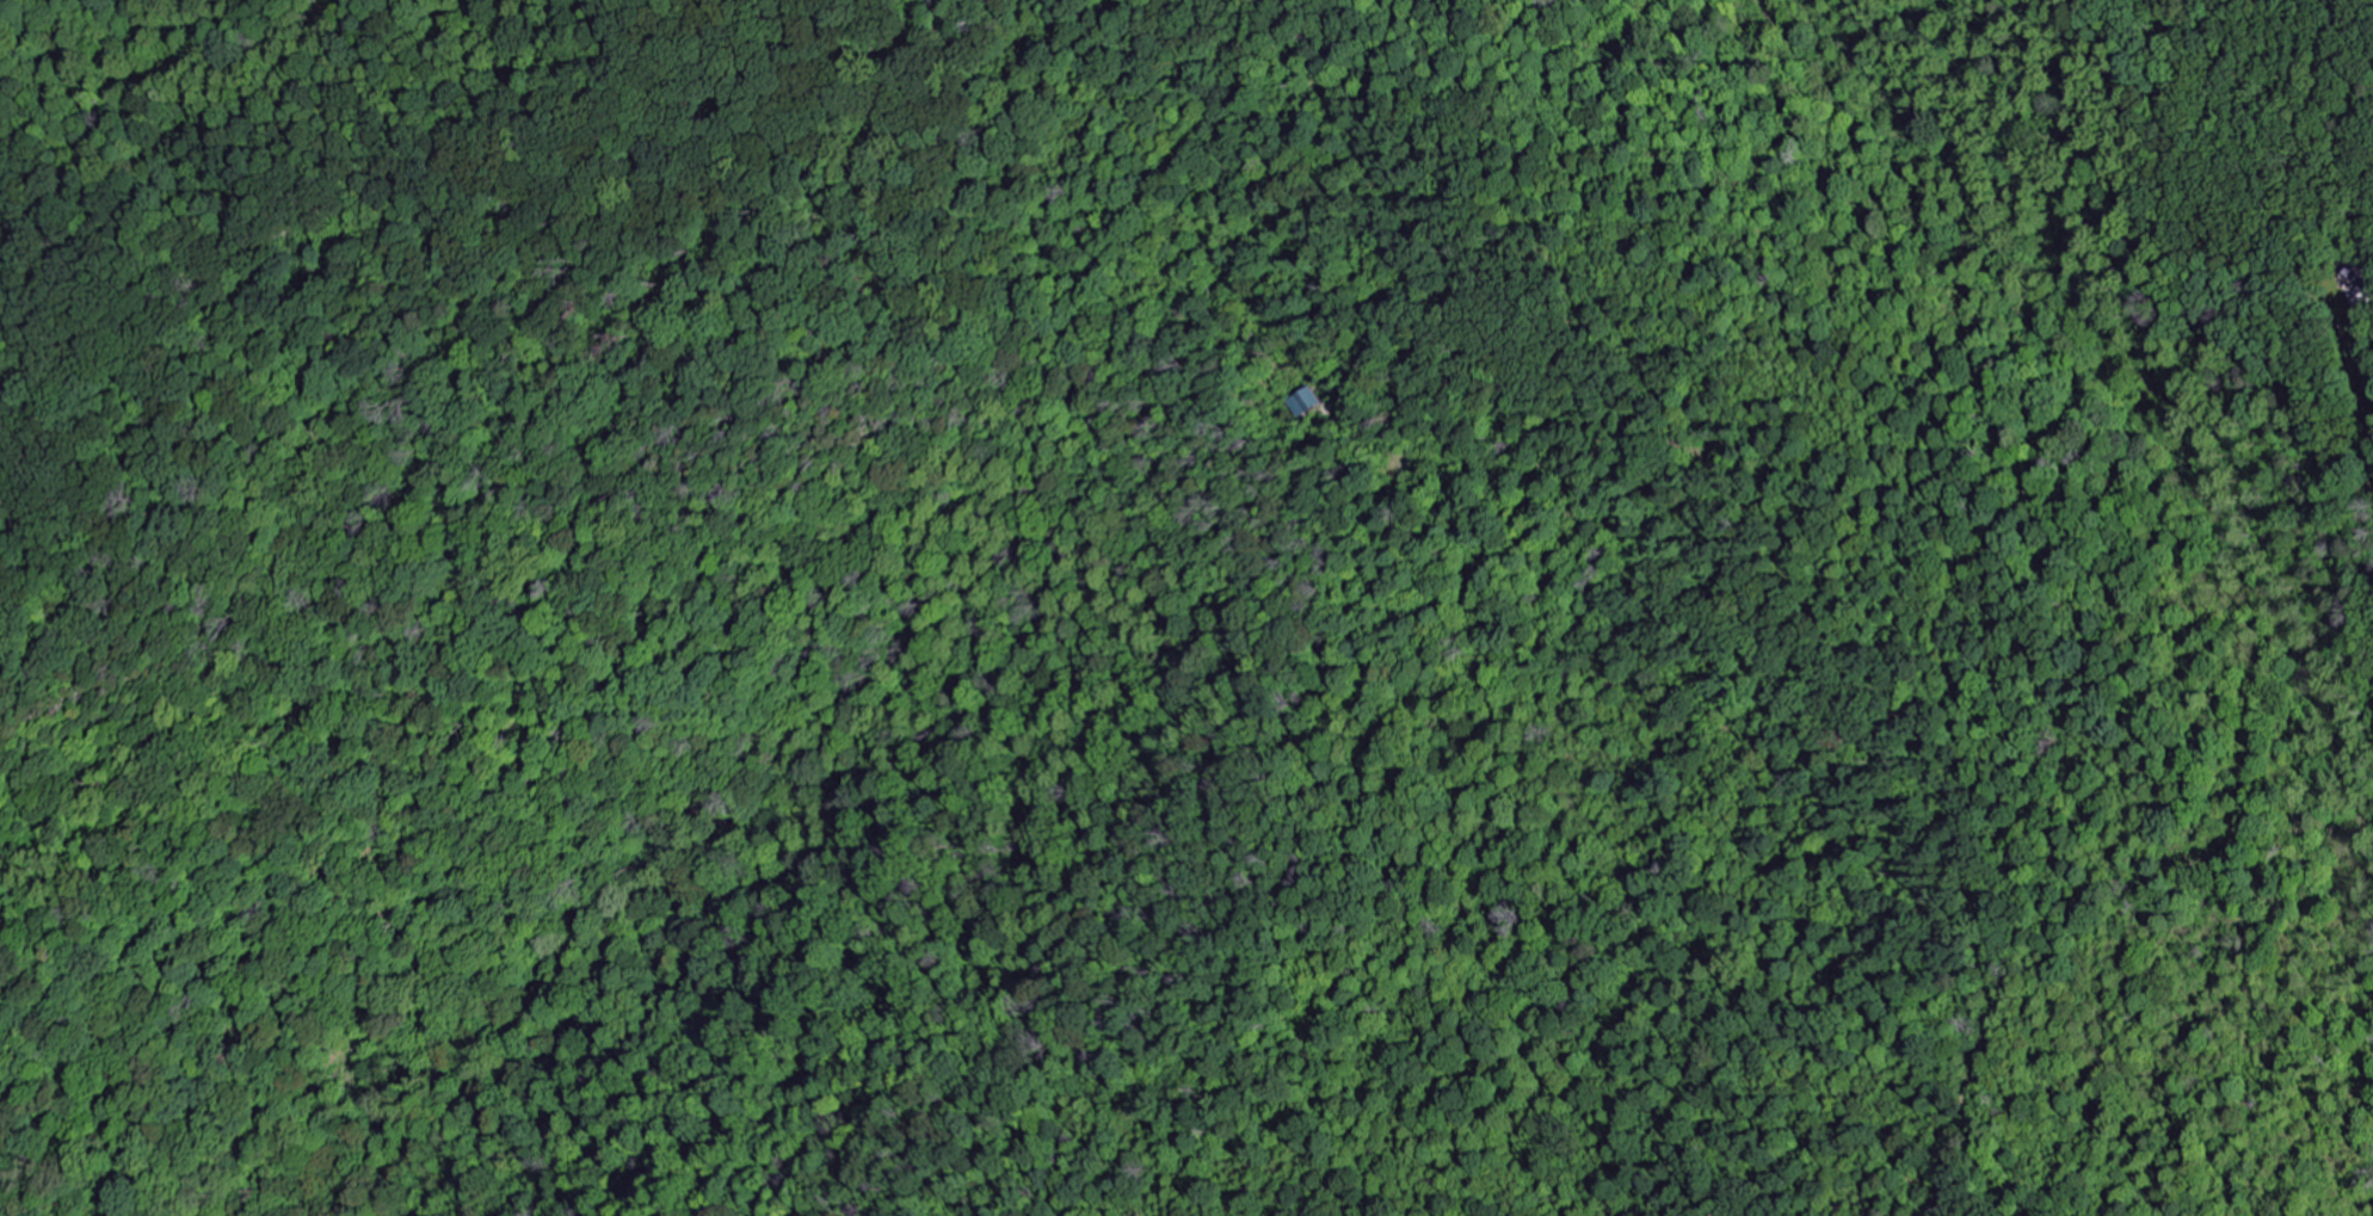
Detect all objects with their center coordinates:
road: (2365, 351)
building: (1306, 403)

